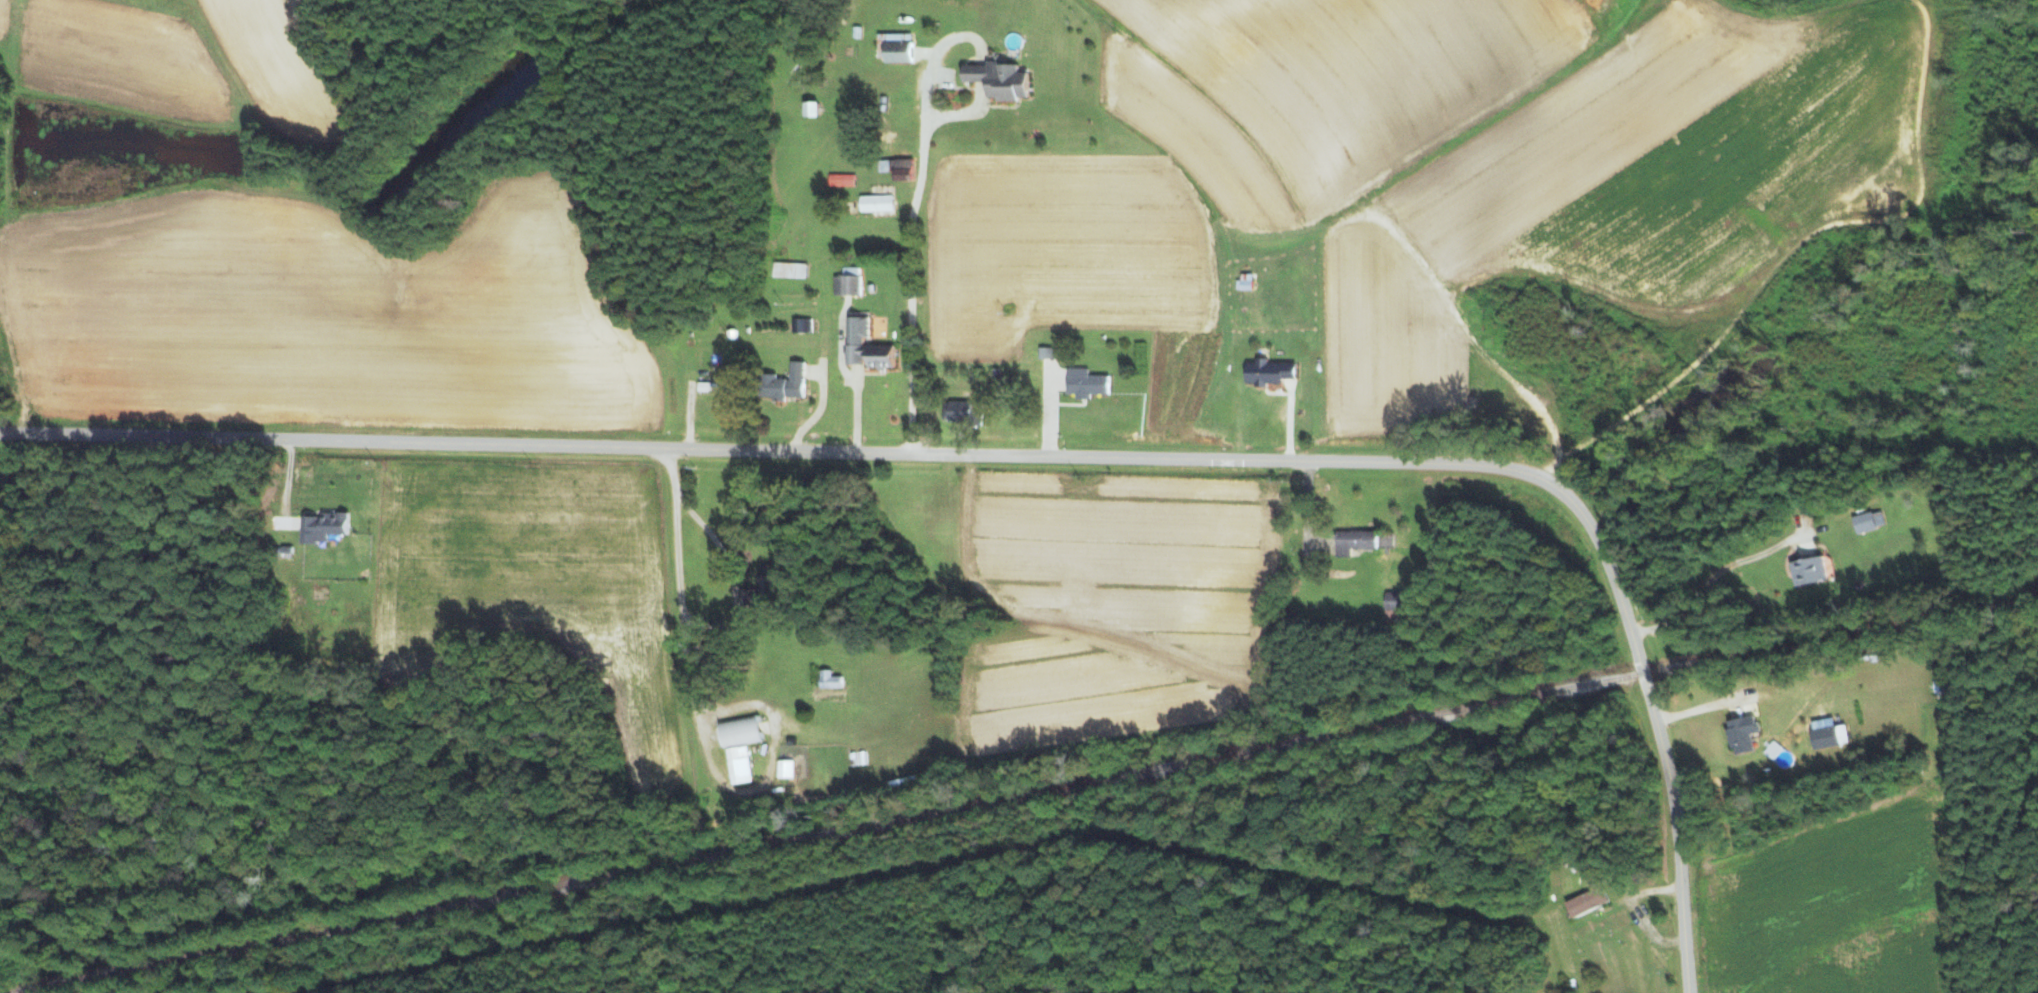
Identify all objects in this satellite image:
building: (895, 47)
building: (997, 79)
building: (809, 108)
road: (958, 114)
building: (841, 180)
building: (876, 203)
road: (913, 219)
building: (788, 270)
building: (847, 282)
building: (863, 346)
building: (1046, 352)
building: (1267, 372)
building: (782, 383)
building: (1084, 383)
building: (708, 387)
road: (817, 409)
building: (961, 412)
road: (688, 415)
road: (1287, 428)
road: (1046, 456)
building: (1867, 521)
building: (322, 526)
building: (1353, 541)
building: (1808, 570)
road: (730, 574)
road: (1712, 579)
building: (1395, 605)
road: (684, 662)
building: (828, 680)
building: (738, 732)
building: (1740, 733)
building: (1823, 737)
building: (738, 765)
building: (785, 769)
railway: (1028, 795)
building: (1586, 902)

